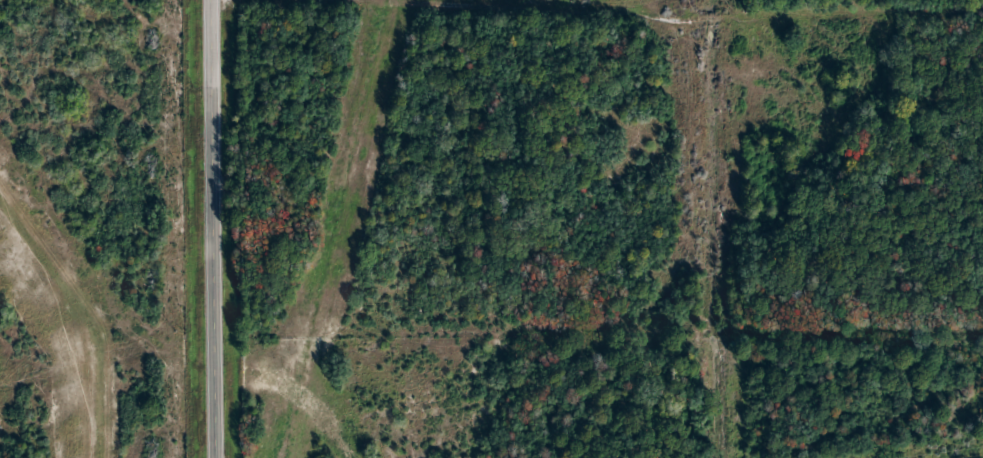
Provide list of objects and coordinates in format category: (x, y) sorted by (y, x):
road: (212, 229)

